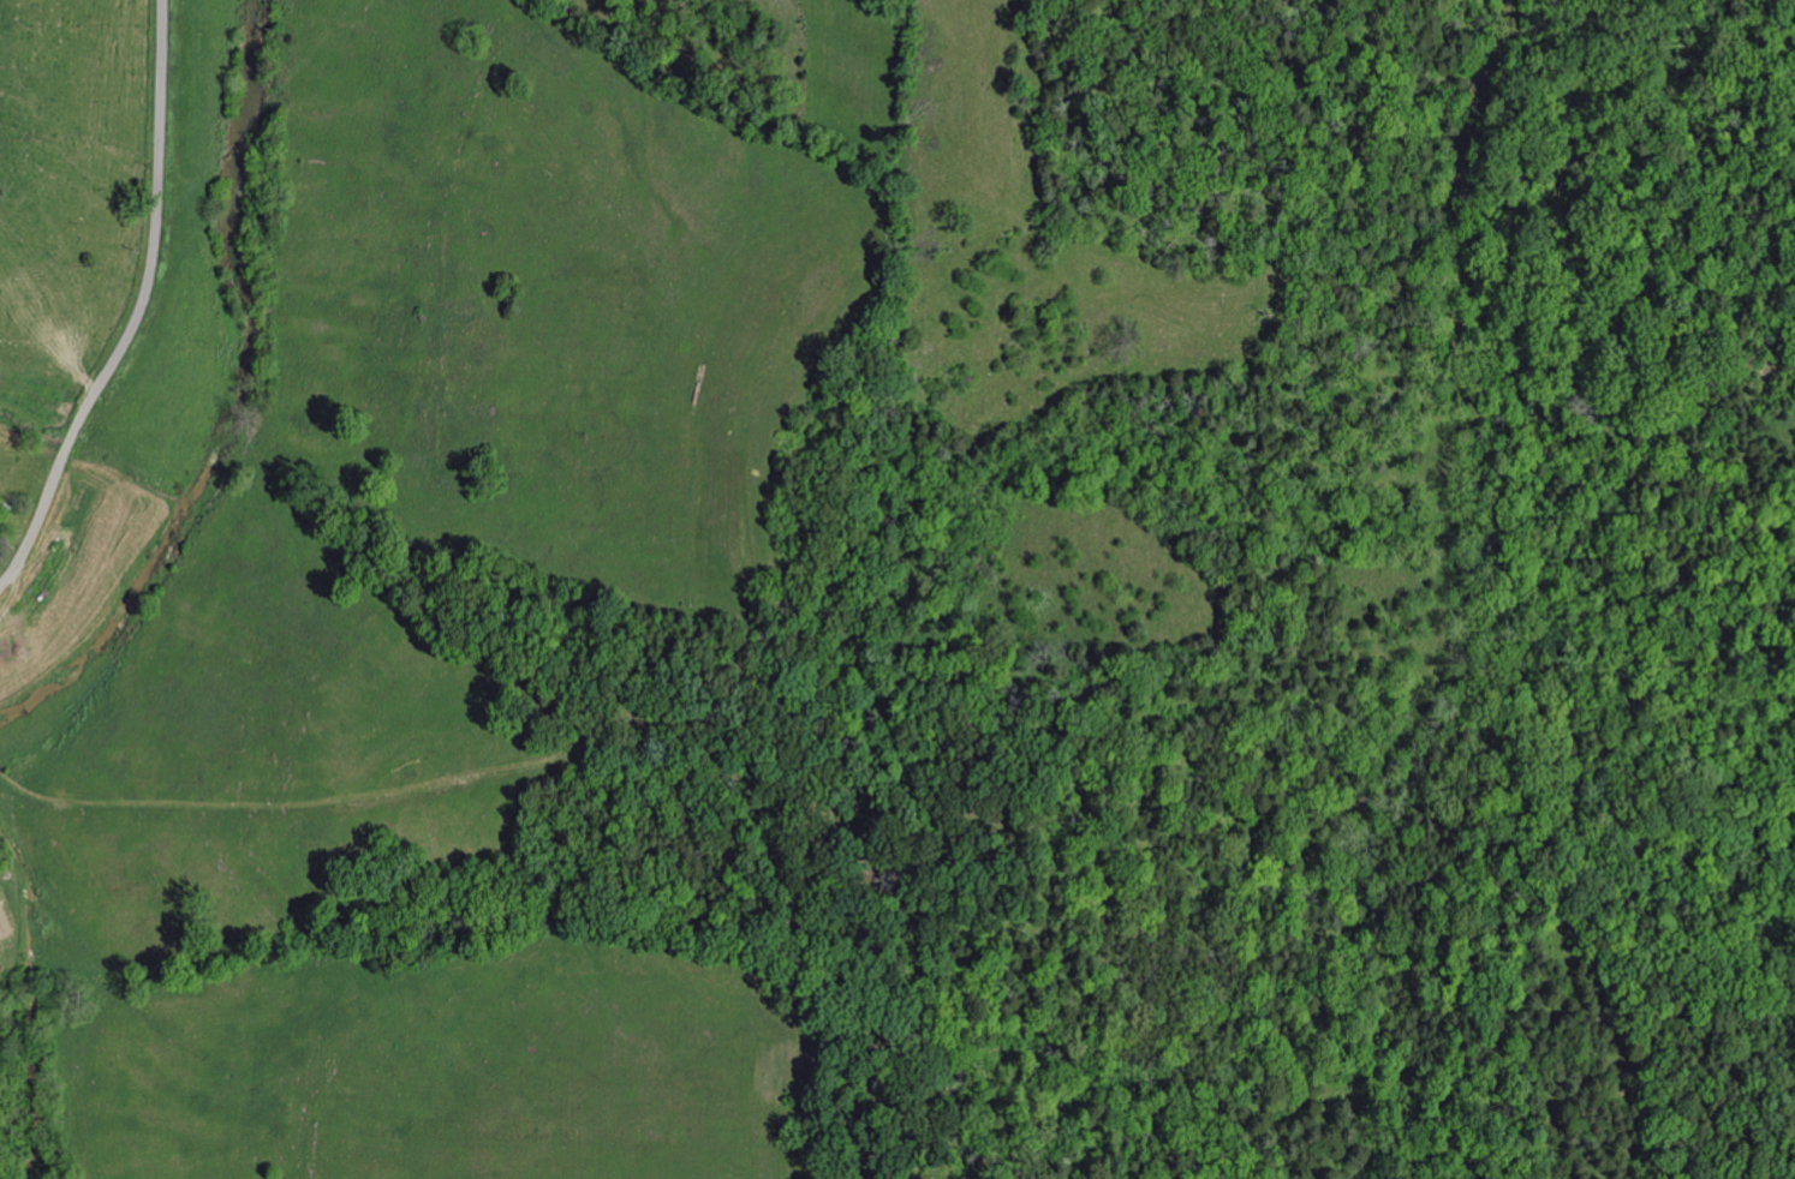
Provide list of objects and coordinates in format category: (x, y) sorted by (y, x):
road: (138, 309)

